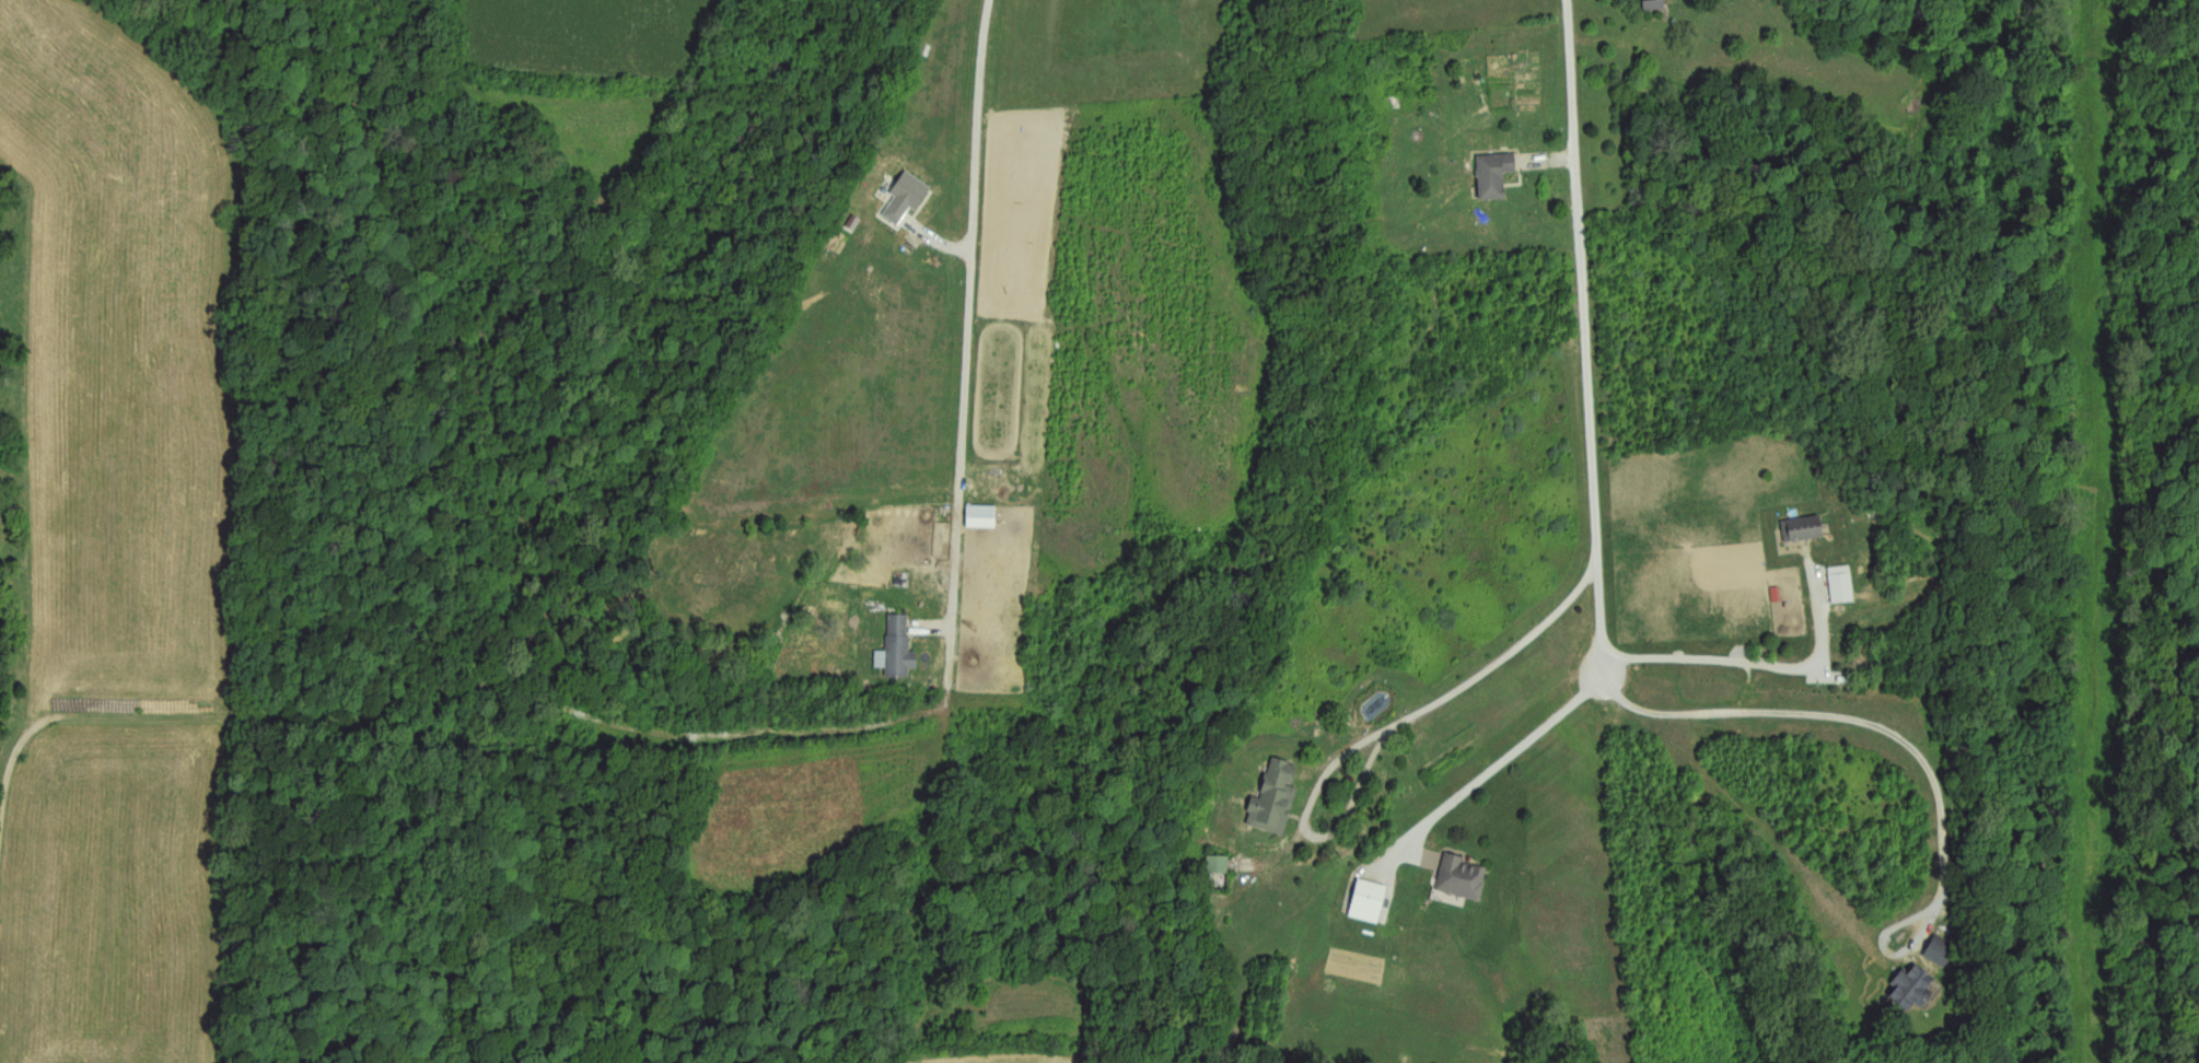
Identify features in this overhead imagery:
building: (1654, 5)
building: (1496, 175)
road: (969, 313)
road: (1590, 336)
building: (1804, 529)
building: (1843, 585)
building: (899, 650)
road: (1756, 655)
road: (1452, 691)
road: (1871, 710)
road: (1504, 756)
building: (1276, 799)
building: (1220, 874)
building: (1464, 879)
building: (1370, 902)
building: (1913, 990)

